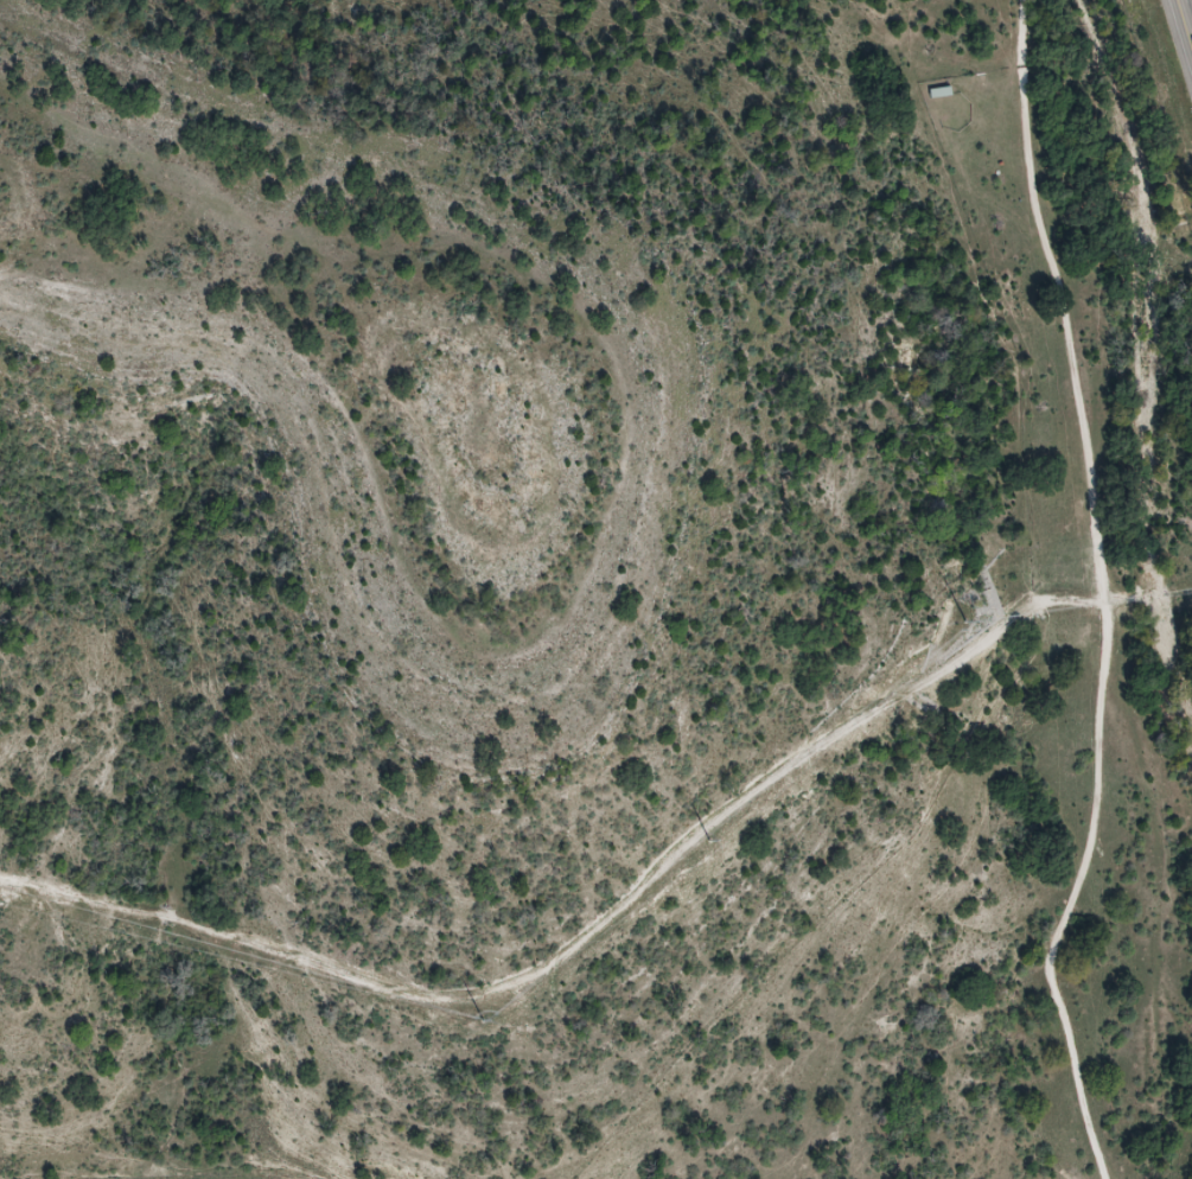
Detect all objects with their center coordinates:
road: (1186, 17)
power tower: (969, 624)
power tower: (715, 840)
power tower: (487, 1020)
road: (278, 1175)

